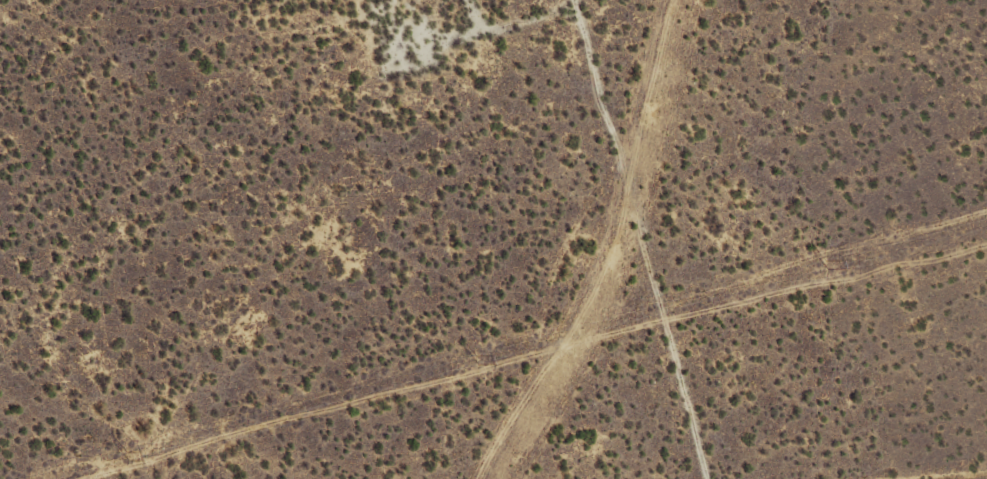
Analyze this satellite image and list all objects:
power tower: (823, 263)
power tower: (477, 360)
power tower: (124, 453)

